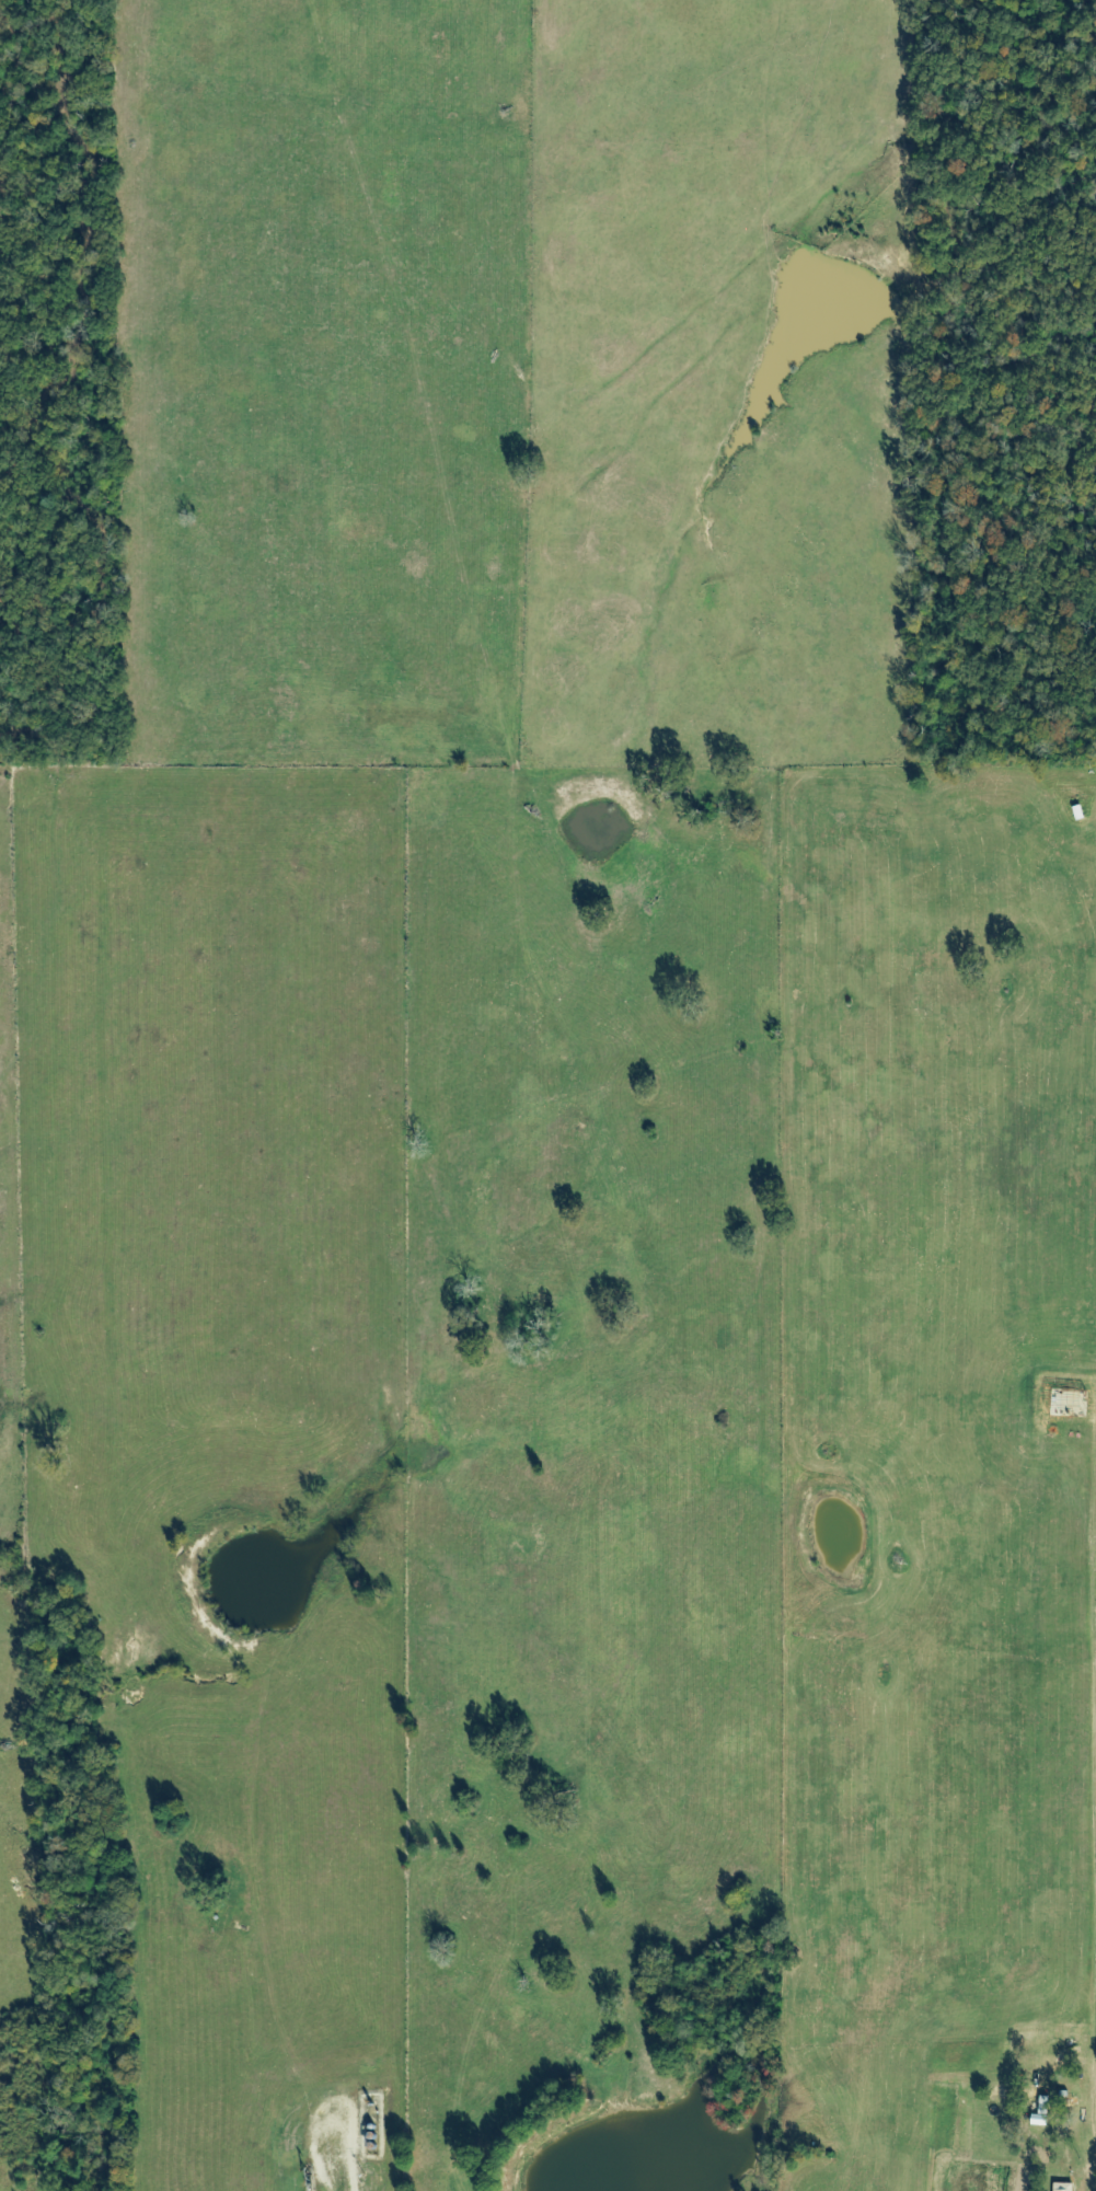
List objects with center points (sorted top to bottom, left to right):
building: (1063, 2188)

